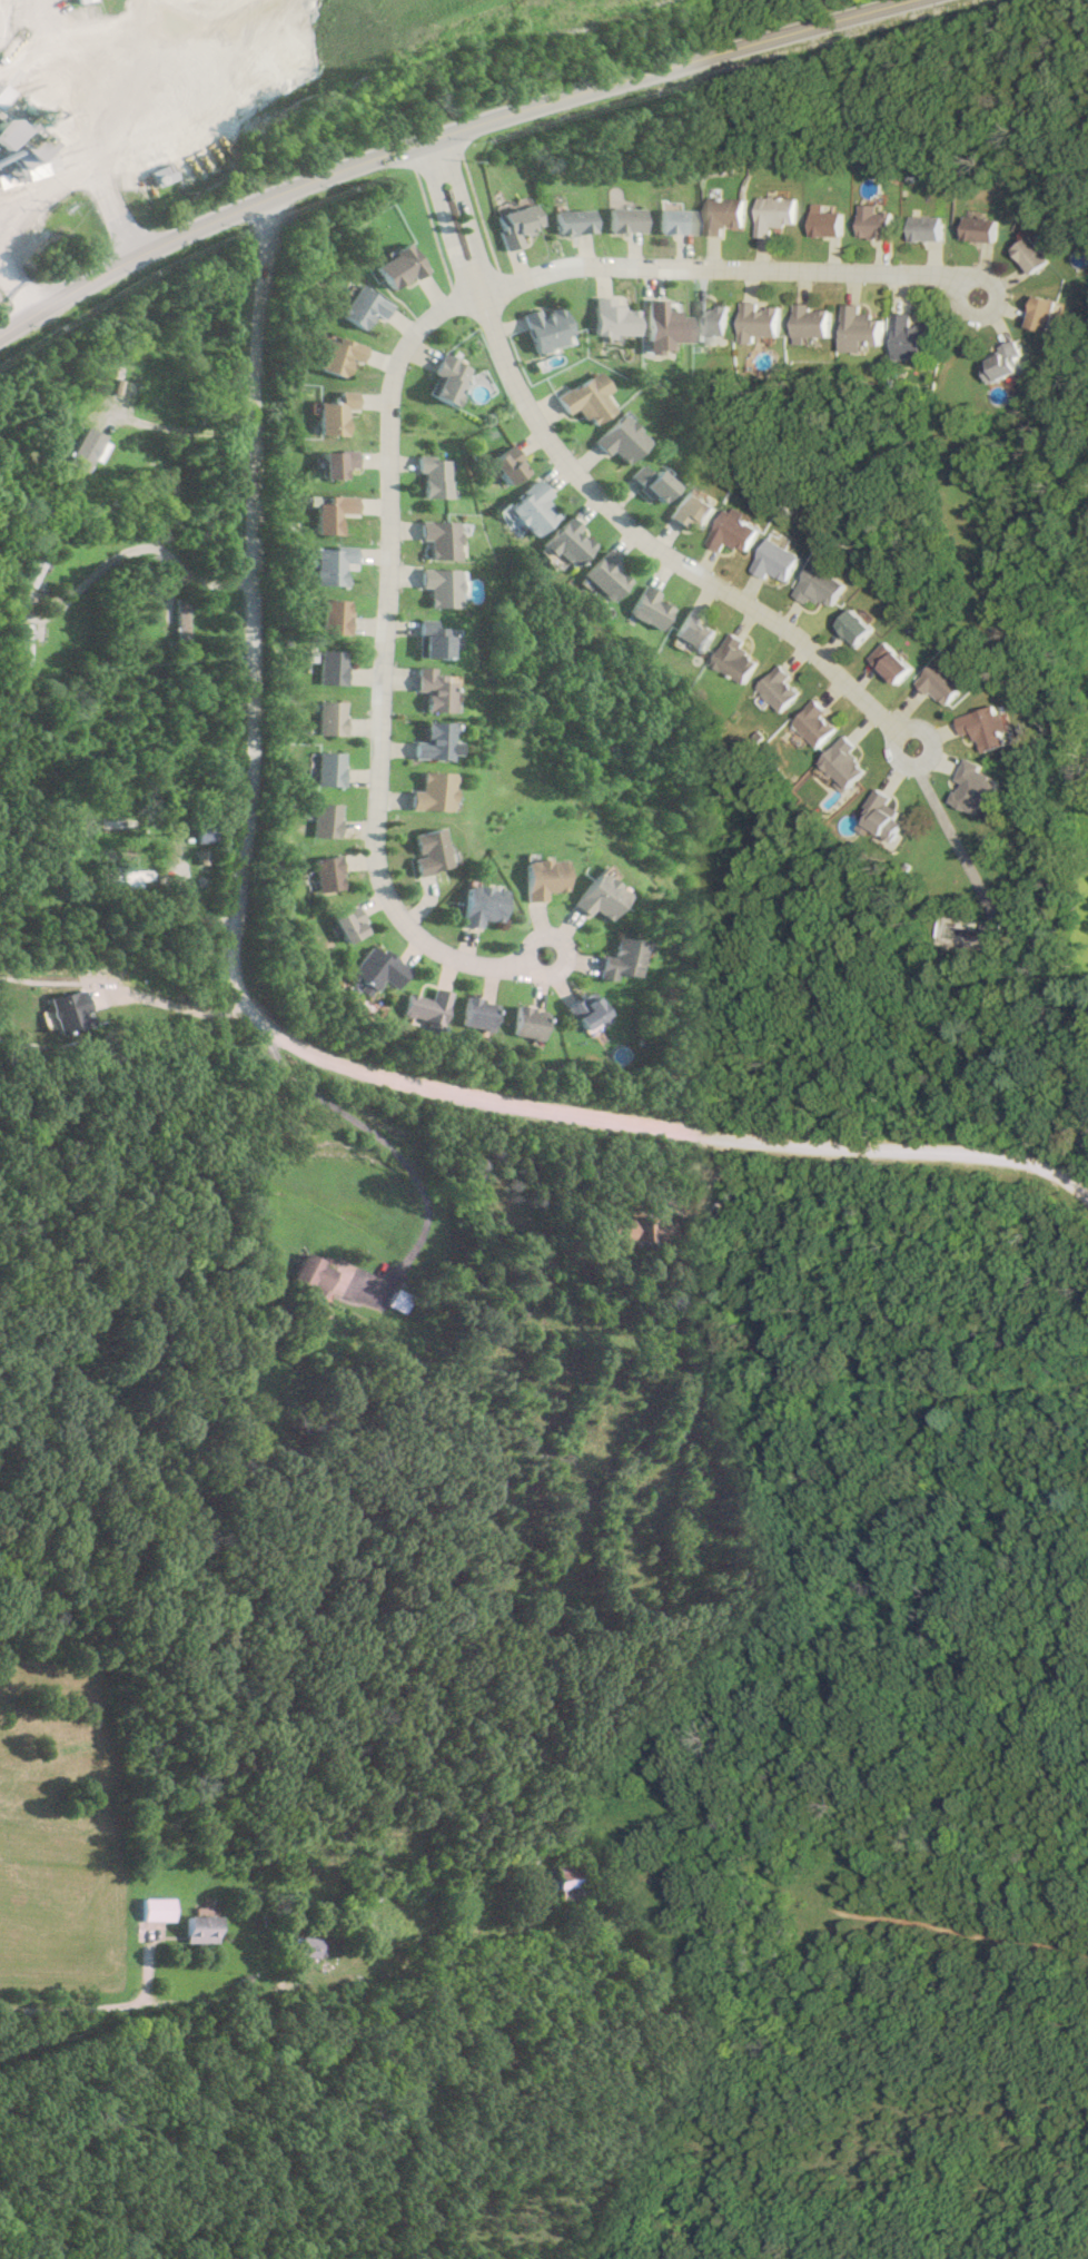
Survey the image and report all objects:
building: (80, 1)
road: (181, 88)
road: (441, 134)
road: (88, 174)
road: (463, 210)
building: (629, 211)
building: (577, 214)
building: (680, 214)
building: (880, 214)
building: (831, 216)
road: (437, 219)
building: (512, 223)
road: (728, 265)
building: (397, 266)
road: (17, 288)
building: (362, 306)
building: (1048, 306)
building: (613, 310)
building: (664, 317)
building: (538, 328)
building: (917, 329)
building: (337, 355)
building: (441, 381)
building: (111, 385)
building: (332, 413)
road: (189, 431)
building: (332, 462)
building: (503, 464)
building: (429, 476)
building: (527, 507)
building: (326, 511)
building: (435, 537)
road: (148, 541)
road: (649, 542)
building: (778, 560)
building: (326, 562)
building: (604, 574)
building: (434, 585)
building: (822, 585)
building: (649, 608)
building: (330, 616)
building: (179, 619)
building: (859, 628)
building: (693, 630)
building: (429, 641)
building: (22, 644)
building: (734, 659)
road: (377, 660)
building: (896, 662)
building: (328, 668)
building: (946, 682)
building: (780, 688)
building: (427, 689)
building: (327, 719)
building: (818, 723)
building: (990, 728)
building: (426, 743)
building: (845, 762)
road: (926, 764)
building: (325, 769)
building: (978, 788)
building: (426, 792)
building: (886, 816)
building: (117, 820)
building: (323, 820)
building: (200, 832)
road: (956, 836)
building: (425, 852)
building: (326, 874)
building: (540, 878)
building: (595, 897)
building: (478, 905)
building: (347, 925)
road: (558, 941)
building: (621, 959)
building: (376, 968)
building: (427, 1006)
road: (179, 1009)
building: (585, 1012)
building: (477, 1013)
building: (101, 1019)
building: (526, 1022)
road: (273, 1026)
road: (383, 1138)
building: (640, 1230)
building: (563, 1232)
building: (311, 1274)
building: (397, 1300)
building: (400, 1888)
building: (156, 1908)
building: (199, 1928)
building: (310, 1946)
road: (167, 2005)

